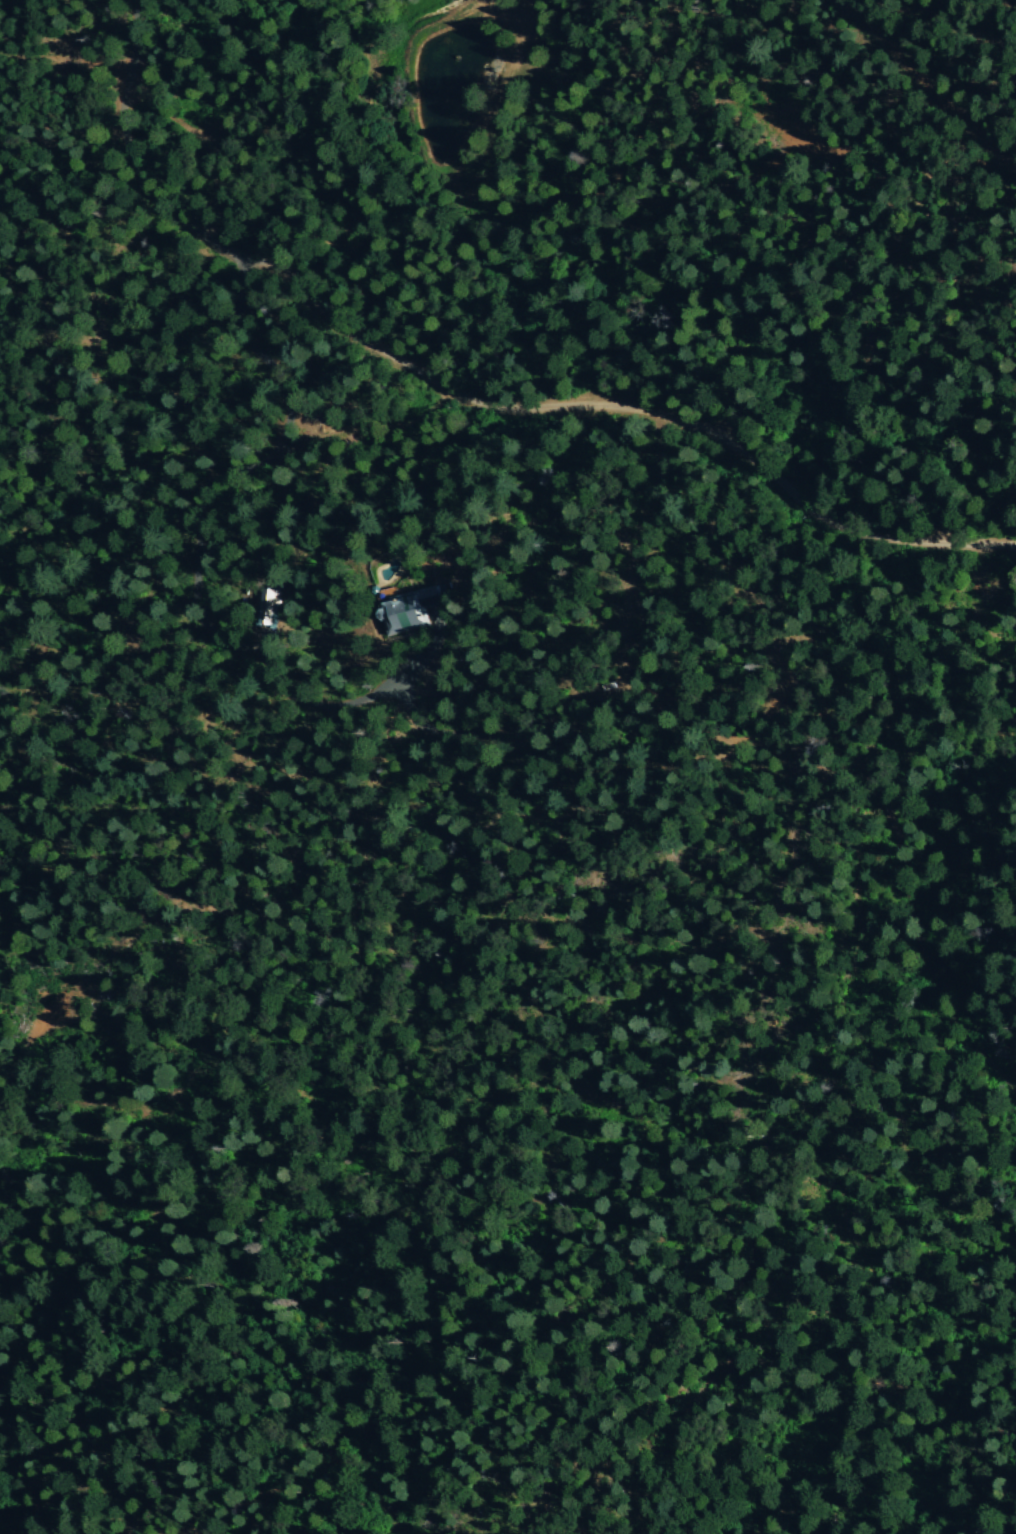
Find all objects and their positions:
road: (470, 398)
road: (199, 542)
building: (402, 611)

